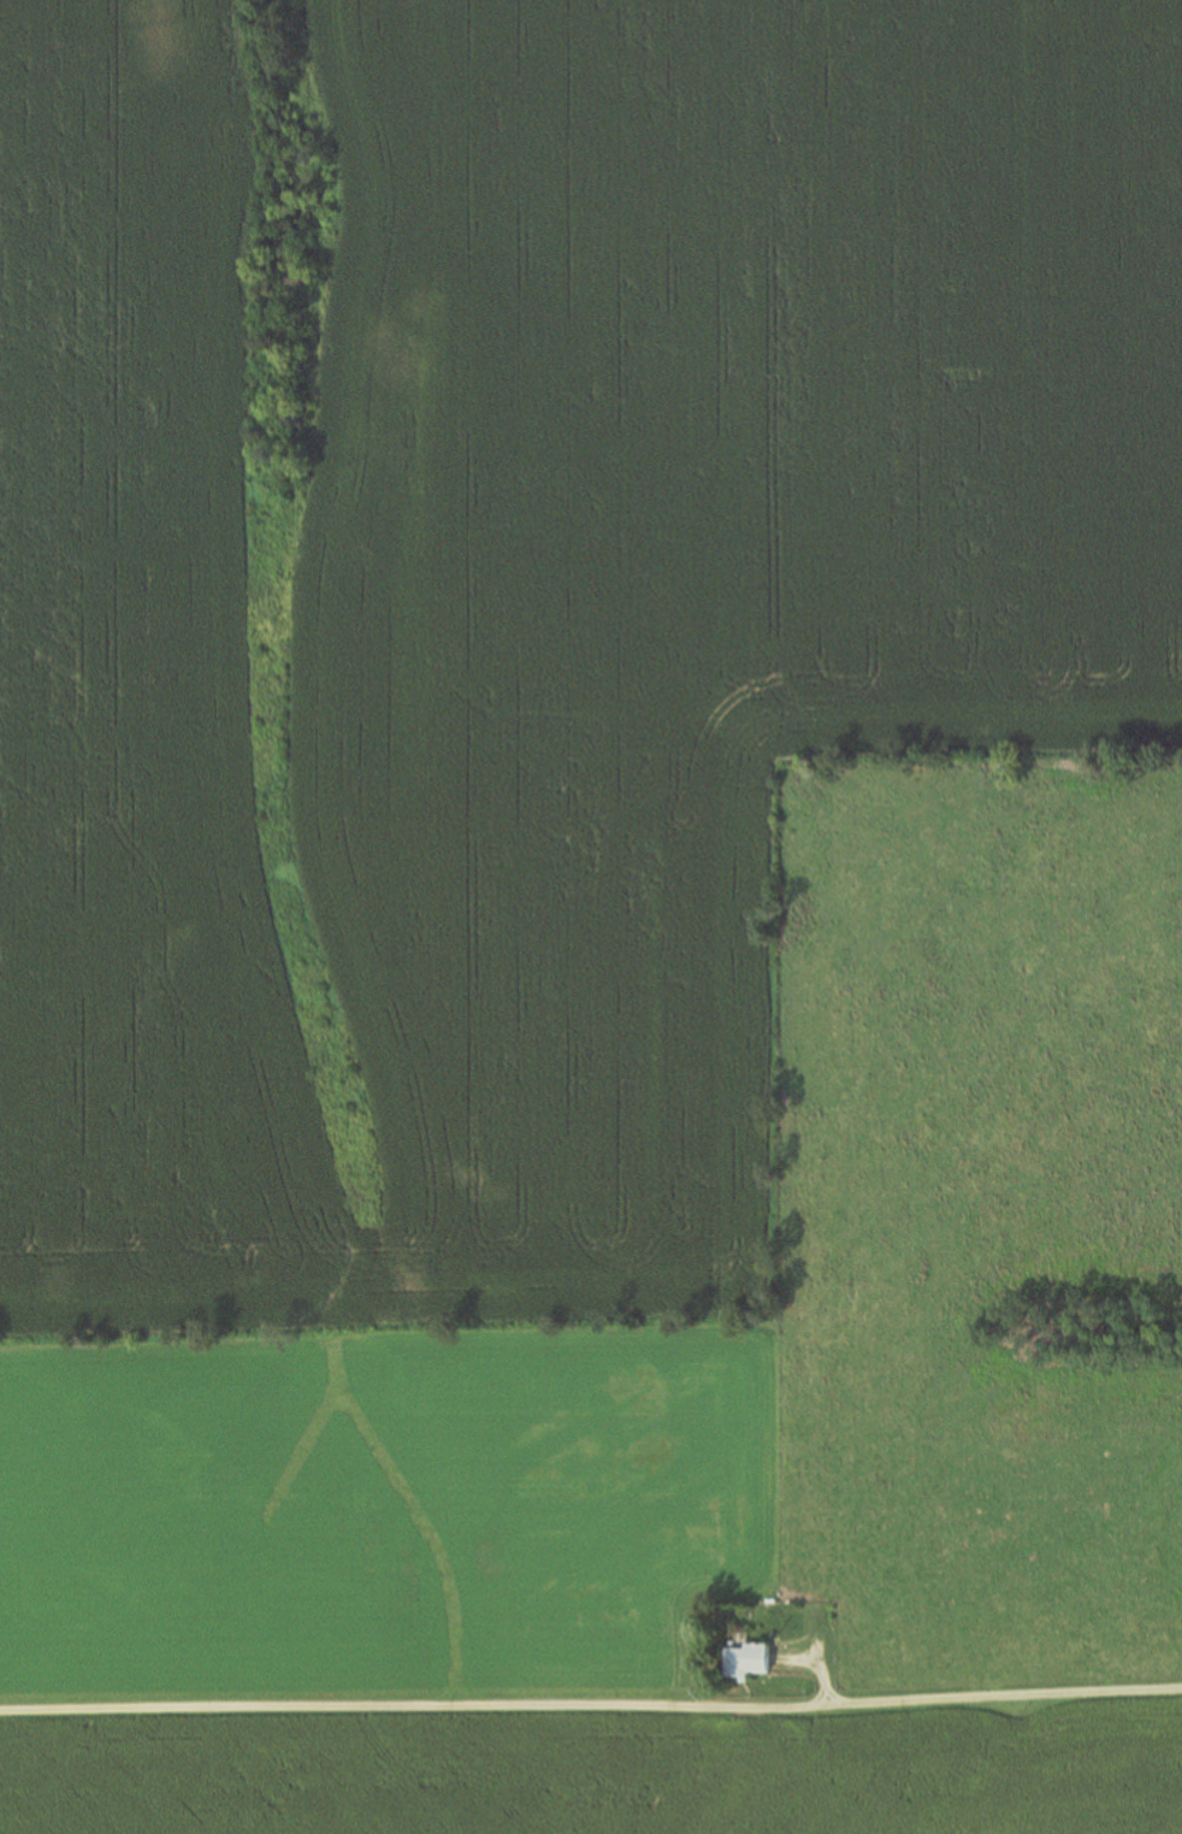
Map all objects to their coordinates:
building: (745, 1662)
road: (591, 1712)

